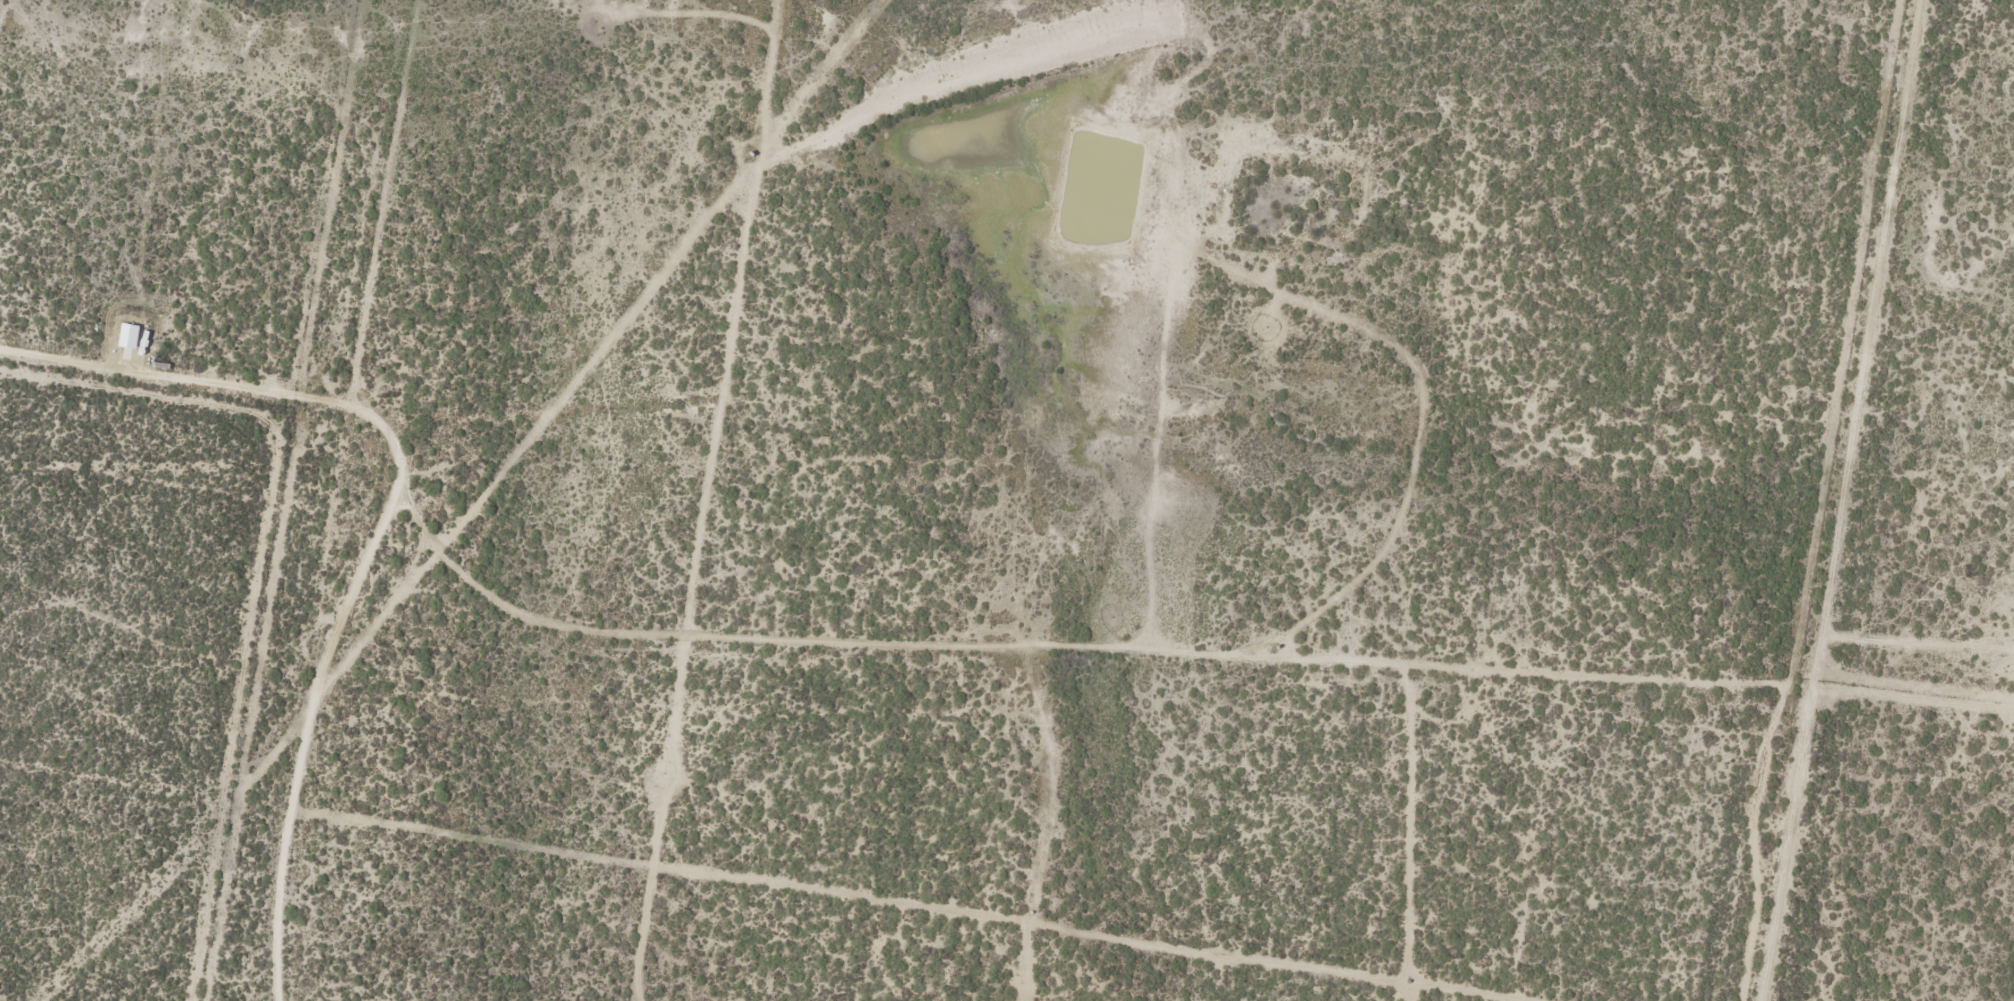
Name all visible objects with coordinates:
building: (128, 341)
road: (1872, 380)

